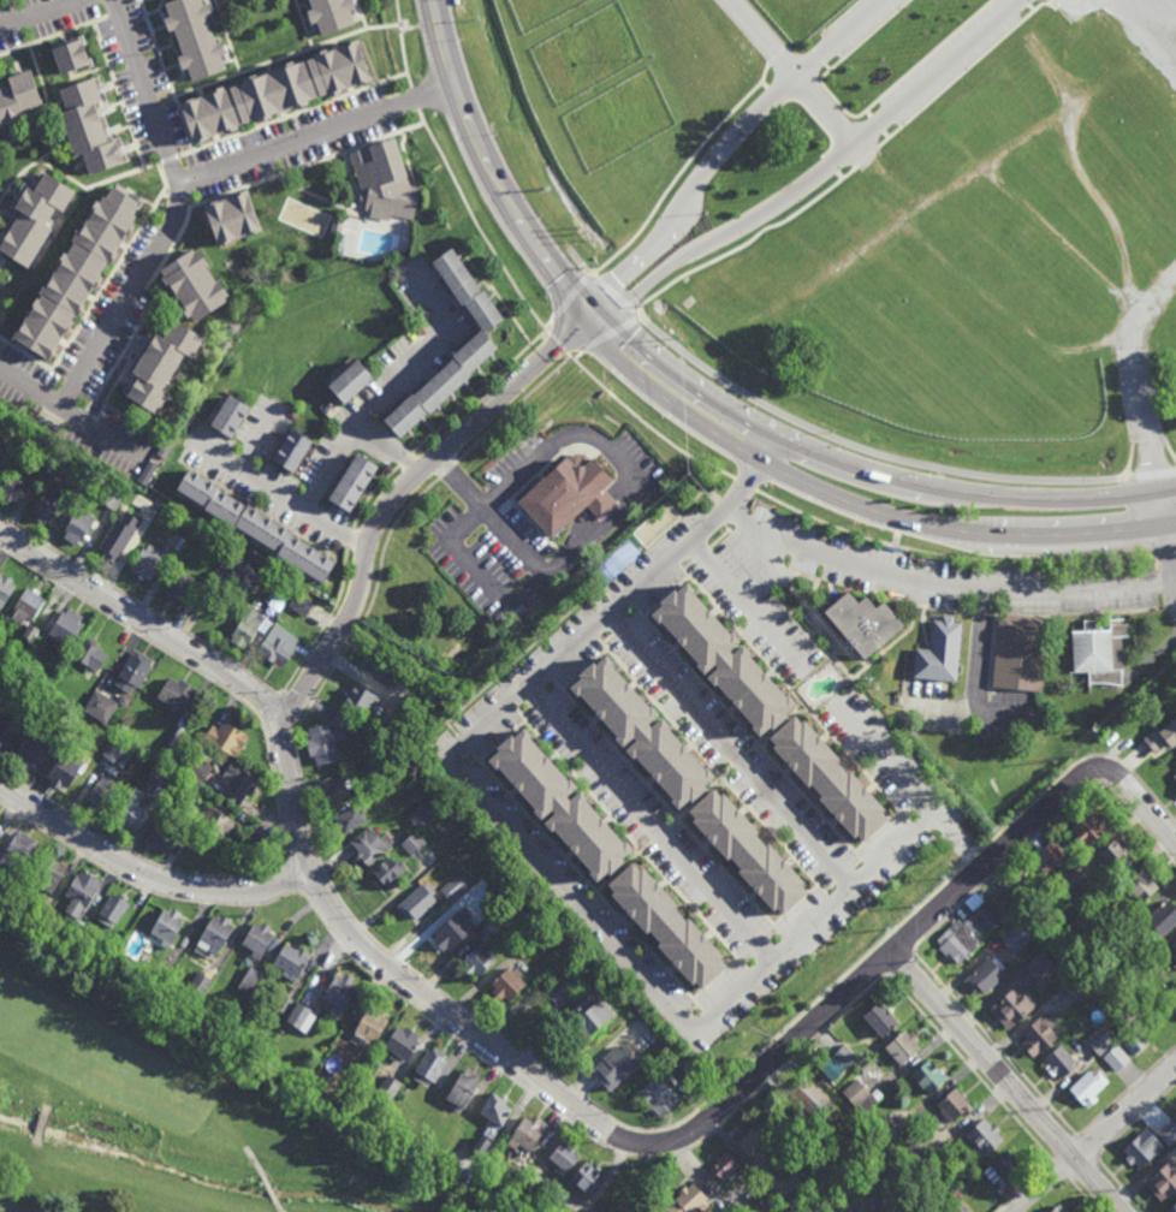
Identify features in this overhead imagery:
road: (1026, 1)
road: (165, 4)
road: (224, 5)
road: (1077, 5)
road: (1031, 6)
road: (159, 10)
road: (361, 14)
road: (44, 16)
road: (126, 16)
building: (331, 16)
road: (303, 24)
parking lot: (1150, 30)
road: (227, 36)
road: (53, 37)
building: (200, 38)
road: (1141, 38)
road: (404, 44)
road: (286, 55)
building: (75, 57)
road: (790, 73)
road: (961, 73)
road: (166, 75)
road: (43, 88)
road: (149, 90)
building: (274, 91)
building: (18, 97)
road: (414, 101)
road: (860, 113)
road: (869, 113)
road: (295, 114)
road: (877, 123)
building: (93, 126)
road: (323, 133)
road: (885, 135)
road: (726, 149)
road: (866, 156)
road: (168, 161)
road: (309, 164)
road: (497, 166)
road: (48, 170)
road: (816, 170)
road: (682, 171)
road: (97, 182)
building: (382, 182)
road: (178, 200)
road: (348, 208)
building: (236, 216)
building: (38, 218)
road: (476, 224)
road: (144, 225)
road: (747, 242)
road: (580, 260)
road: (5, 265)
building: (0, 266)
building: (75, 275)
building: (456, 278)
building: (200, 285)
road: (614, 293)
road: (498, 298)
road: (568, 299)
road: (155, 304)
building: (482, 311)
traffic signals: (592, 314)
road: (109, 328)
road: (606, 337)
road: (557, 343)
building: (474, 352)
building: (166, 364)
road: (678, 379)
building: (350, 382)
building: (441, 386)
road: (480, 391)
road: (390, 393)
road: (669, 393)
road: (513, 409)
building: (404, 416)
building: (228, 417)
road: (1144, 421)
road: (646, 424)
road: (106, 438)
road: (260, 438)
road: (391, 446)
road: (857, 446)
road: (766, 447)
building: (299, 457)
road: (405, 459)
road: (447, 469)
road: (1142, 473)
building: (351, 483)
road: (744, 483)
building: (194, 486)
building: (14, 487)
road: (370, 494)
road: (398, 494)
building: (564, 494)
road: (281, 495)
road: (969, 497)
building: (601, 506)
building: (47, 507)
building: (221, 507)
road: (626, 507)
road: (711, 511)
road: (266, 513)
building: (770, 516)
building: (79, 524)
building: (141, 525)
building: (260, 528)
road: (726, 528)
building: (119, 534)
road: (961, 534)
road: (350, 540)
road: (719, 540)
road: (664, 554)
road: (1163, 554)
road: (946, 555)
building: (304, 558)
building: (148, 563)
road: (697, 563)
building: (239, 570)
road: (480, 576)
road: (814, 582)
road: (944, 584)
road: (1174, 586)
building: (178, 588)
building: (5, 590)
road: (622, 590)
road: (665, 598)
road: (806, 600)
building: (301, 604)
road: (578, 605)
building: (28, 606)
road: (142, 606)
road: (370, 606)
road: (746, 606)
road: (813, 606)
road: (944, 611)
building: (859, 619)
road: (583, 624)
road: (326, 625)
building: (67, 628)
building: (249, 628)
building: (28, 630)
road: (136, 632)
road: (626, 634)
road: (738, 637)
building: (278, 647)
road: (890, 647)
building: (1097, 649)
building: (1018, 650)
building: (940, 652)
building: (88, 656)
building: (721, 663)
road: (540, 665)
building: (381, 667)
road: (584, 670)
building: (133, 672)
road: (806, 672)
road: (809, 673)
building: (0, 689)
building: (10, 696)
building: (176, 697)
building: (121, 699)
road: (828, 700)
road: (296, 701)
road: (499, 701)
building: (358, 702)
road: (833, 703)
building: (97, 705)
road: (540, 706)
road: (273, 711)
building: (343, 718)
road: (881, 721)
building: (63, 725)
building: (120, 726)
building: (177, 726)
road: (278, 730)
road: (773, 730)
building: (7, 731)
road: (749, 733)
building: (640, 735)
building: (1162, 737)
building: (227, 741)
road: (499, 743)
road: (463, 744)
building: (323, 747)
building: (164, 748)
building: (115, 749)
road: (731, 751)
building: (32, 753)
road: (740, 761)
road: (1075, 762)
road: (855, 764)
road: (711, 766)
building: (66, 767)
building: (197, 768)
building: (162, 773)
building: (1175, 779)
building: (828, 782)
building: (237, 783)
road: (908, 789)
building: (334, 791)
building: (186, 792)
building: (369, 792)
building: (101, 795)
road: (277, 798)
road: (700, 798)
building: (171, 802)
road: (907, 804)
road: (1136, 804)
building: (558, 807)
road: (669, 808)
building: (131, 810)
building: (422, 813)
building: (162, 814)
road: (945, 820)
building: (350, 821)
road: (652, 822)
building: (0, 824)
building: (218, 825)
road: (1049, 825)
road: (913, 826)
building: (0, 827)
building: (1089, 827)
road: (877, 832)
road: (659, 834)
building: (162, 837)
building: (412, 842)
road: (628, 842)
building: (370, 845)
road: (131, 850)
building: (1051, 851)
building: (17, 852)
building: (216, 854)
road: (535, 854)
building: (747, 854)
building: (1116, 857)
road: (970, 858)
building: (1041, 862)
road: (309, 866)
road: (623, 866)
road: (867, 868)
road: (835, 869)
building: (388, 872)
building: (48, 874)
road: (147, 874)
building: (1068, 880)
road: (587, 881)
road: (138, 885)
building: (455, 886)
building: (1141, 889)
building: (82, 892)
road: (588, 898)
road: (831, 899)
building: (1104, 902)
building: (416, 904)
road: (796, 905)
building: (40, 908)
building: (981, 910)
building: (111, 911)
building: (504, 915)
building: (1163, 921)
building: (972, 922)
building: (493, 923)
building: (666, 926)
building: (167, 927)
building: (75, 929)
building: (452, 932)
building: (215, 935)
building: (535, 937)
building: (1015, 937)
road: (904, 938)
building: (1123, 938)
building: (257, 940)
road: (788, 940)
road: (756, 941)
building: (957, 943)
building: (1175, 946)
building: (111, 947)
building: (524, 949)
road: (895, 949)
road: (901, 959)
road: (879, 961)
building: (291, 962)
building: (479, 962)
building: (1039, 967)
road: (752, 973)
building: (984, 978)
road: (715, 979)
building: (248, 980)
building: (200, 984)
building: (1079, 984)
building: (156, 985)
building: (507, 985)
building: (562, 990)
building: (190, 994)
building: (338, 994)
building: (283, 1004)
road: (684, 1006)
building: (1174, 1006)
building: (1012, 1008)
road: (706, 1015)
building: (302, 1017)
building: (593, 1017)
building: (879, 1022)
building: (224, 1024)
building: (369, 1030)
building: (1038, 1036)
building: (1098, 1041)
building: (1134, 1041)
road: (994, 1042)
building: (400, 1044)
building: (902, 1047)
building: (1115, 1058)
building: (838, 1063)
building: (1059, 1063)
building: (628, 1065)
building: (429, 1068)
road: (970, 1068)
building: (928, 1076)
road: (1006, 1082)
building: (1088, 1087)
building: (463, 1088)
building: (403, 1091)
road: (1127, 1091)
building: (386, 1092)
building: (860, 1095)
building: (659, 1097)
road: (583, 1098)
building: (809, 1099)
park: (171, 1104)
building: (955, 1105)
building: (494, 1111)
road: (1136, 1121)
building: (881, 1130)
building: (1168, 1133)
road: (584, 1134)
building: (525, 1135)
building: (984, 1137)
road: (1098, 1140)
road: (1088, 1146)
building: (756, 1147)
building: (480, 1148)
road: (1064, 1148)
building: (1142, 1149)
building: (895, 1152)
building: (910, 1157)
building: (564, 1158)
road: (255, 1160)
building: (821, 1165)
building: (723, 1168)
road: (1083, 1169)
building: (1006, 1170)
road: (1062, 1171)
building: (522, 1174)
building: (927, 1178)
building: (586, 1180)
building: (1163, 1182)
building: (513, 1184)
road: (1121, 1184)
road: (271, 1188)
road: (1085, 1196)
building: (688, 1200)
building: (766, 1205)
building: (948, 1206)
road: (280, 1207)
building: (958, 1208)
building: (1058, 1210)
building: (1174, 1210)

